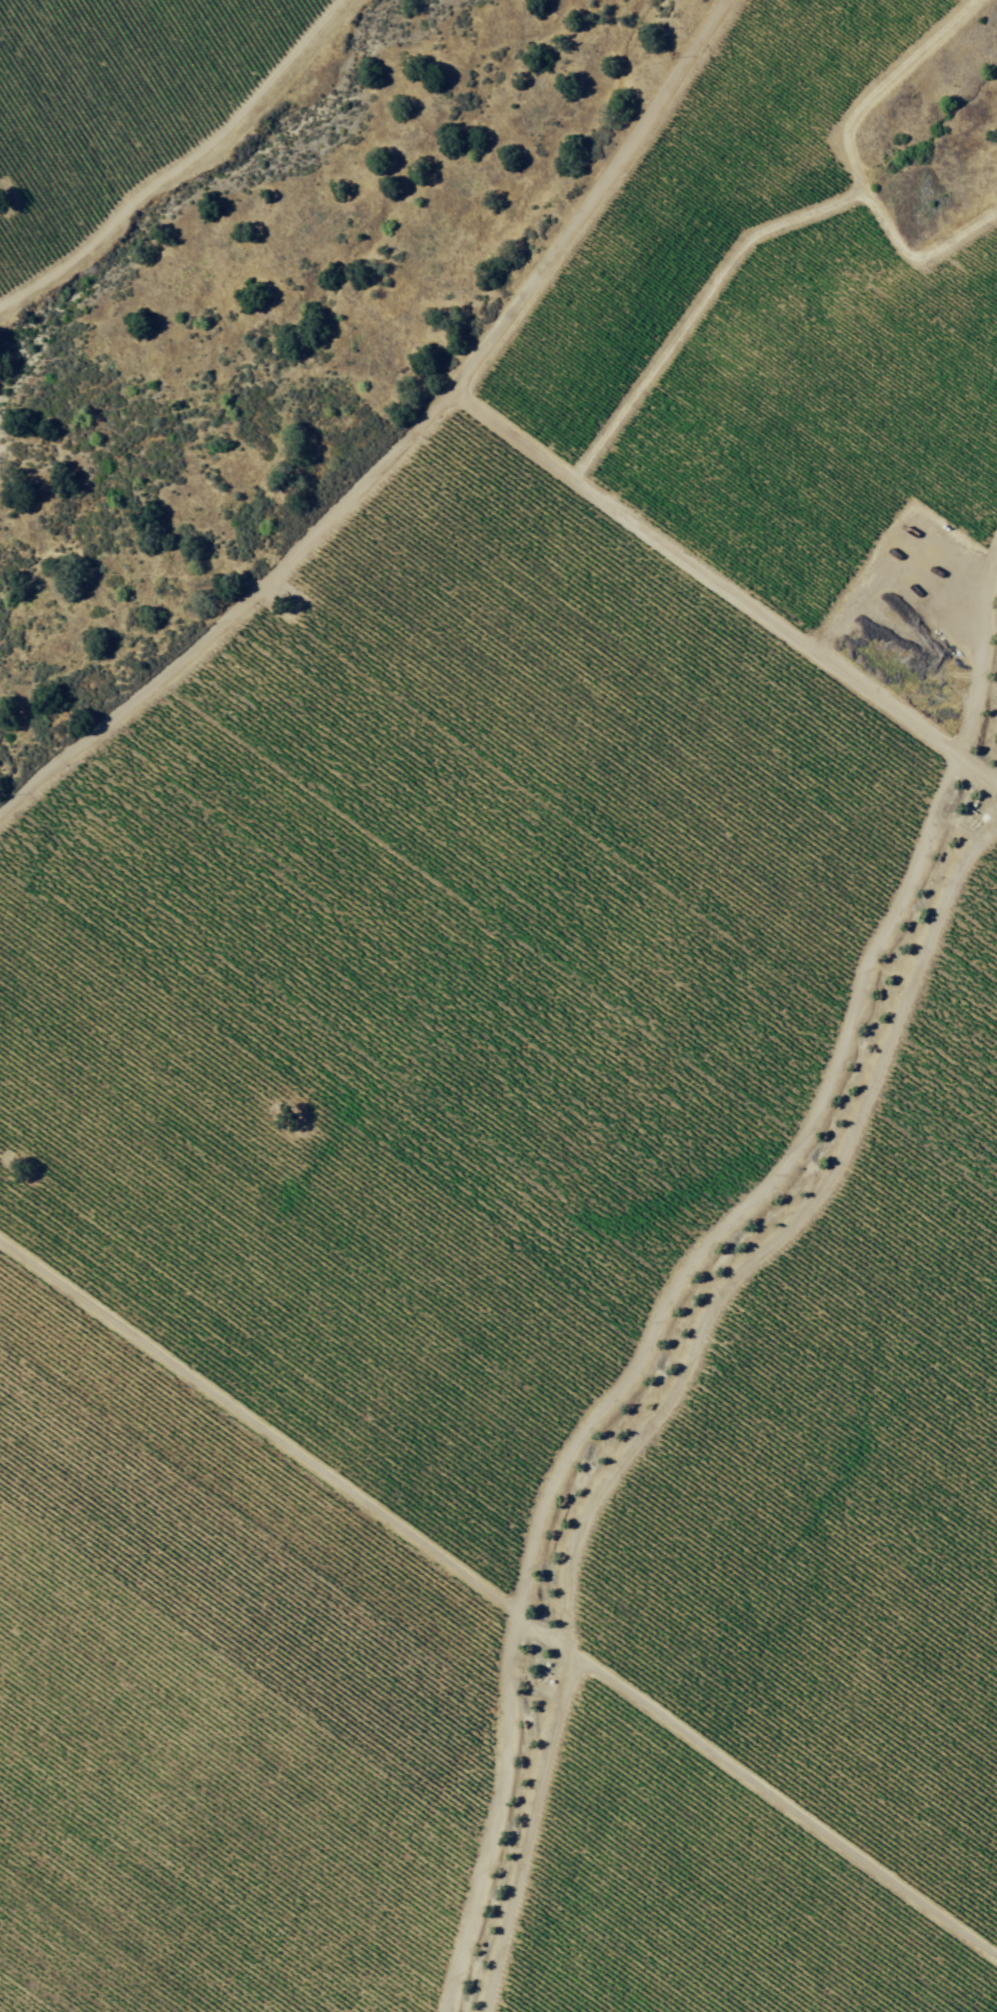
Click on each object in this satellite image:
road: (405, 441)
road: (721, 596)

